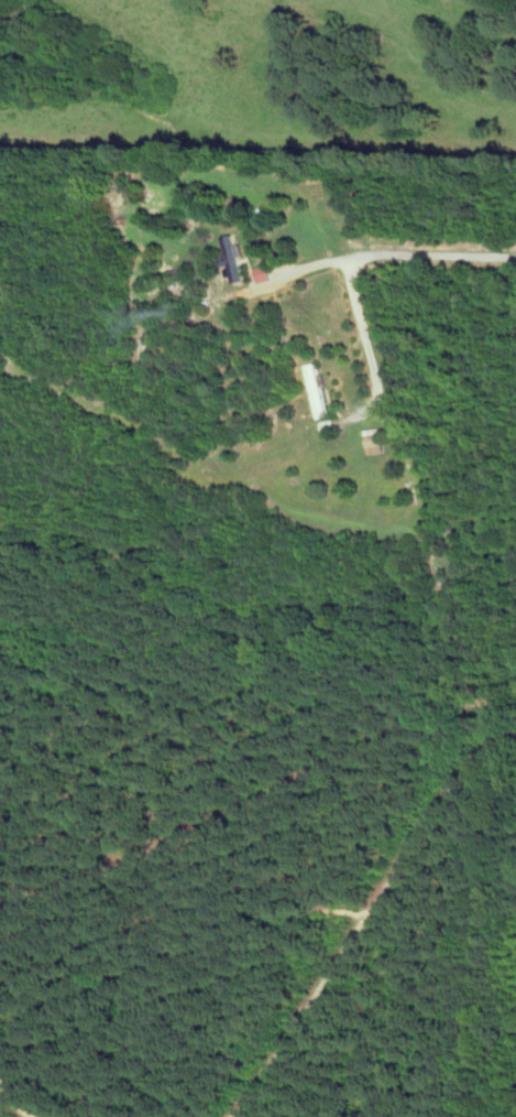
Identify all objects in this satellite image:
road: (430, 254)
building: (235, 258)
road: (316, 265)
building: (265, 272)
road: (369, 345)
building: (377, 441)

